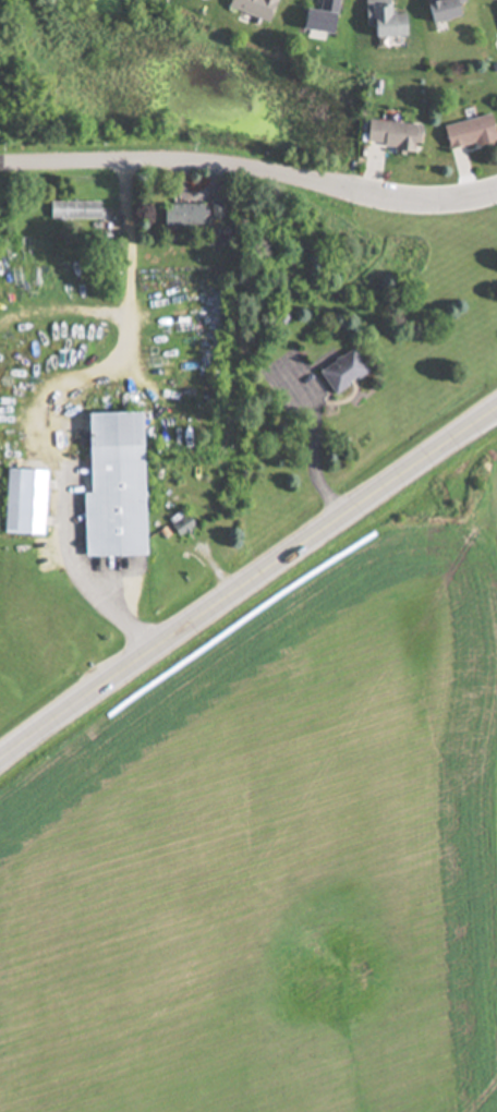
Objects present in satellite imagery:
building: (203, 0)
building: (252, 8)
building: (441, 10)
building: (496, 10)
building: (318, 19)
building: (381, 21)
building: (468, 132)
building: (390, 135)
road: (250, 171)
building: (74, 210)
building: (181, 216)
building: (341, 371)
road: (51, 402)
building: (110, 486)
building: (23, 501)
road: (246, 582)

